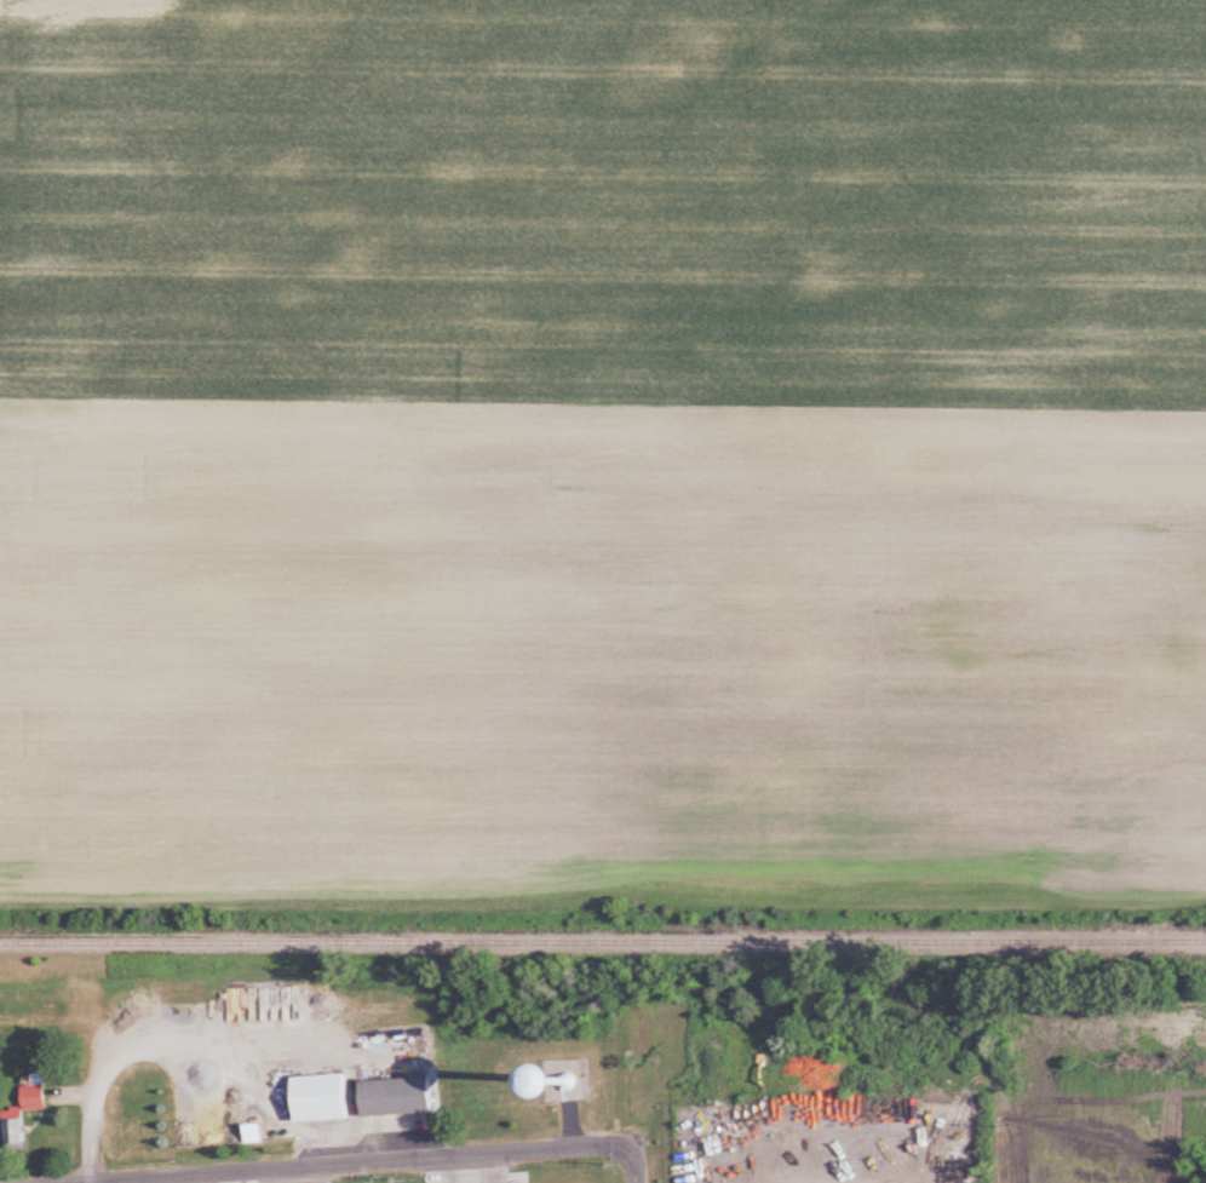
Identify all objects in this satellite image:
railway: (51, 943)
railway: (654, 943)
water tower: (575, 1090)
building: (400, 1098)
building: (323, 1101)
building: (24, 1116)
road: (94, 1118)
building: (255, 1135)
road: (367, 1162)
road: (638, 1165)

